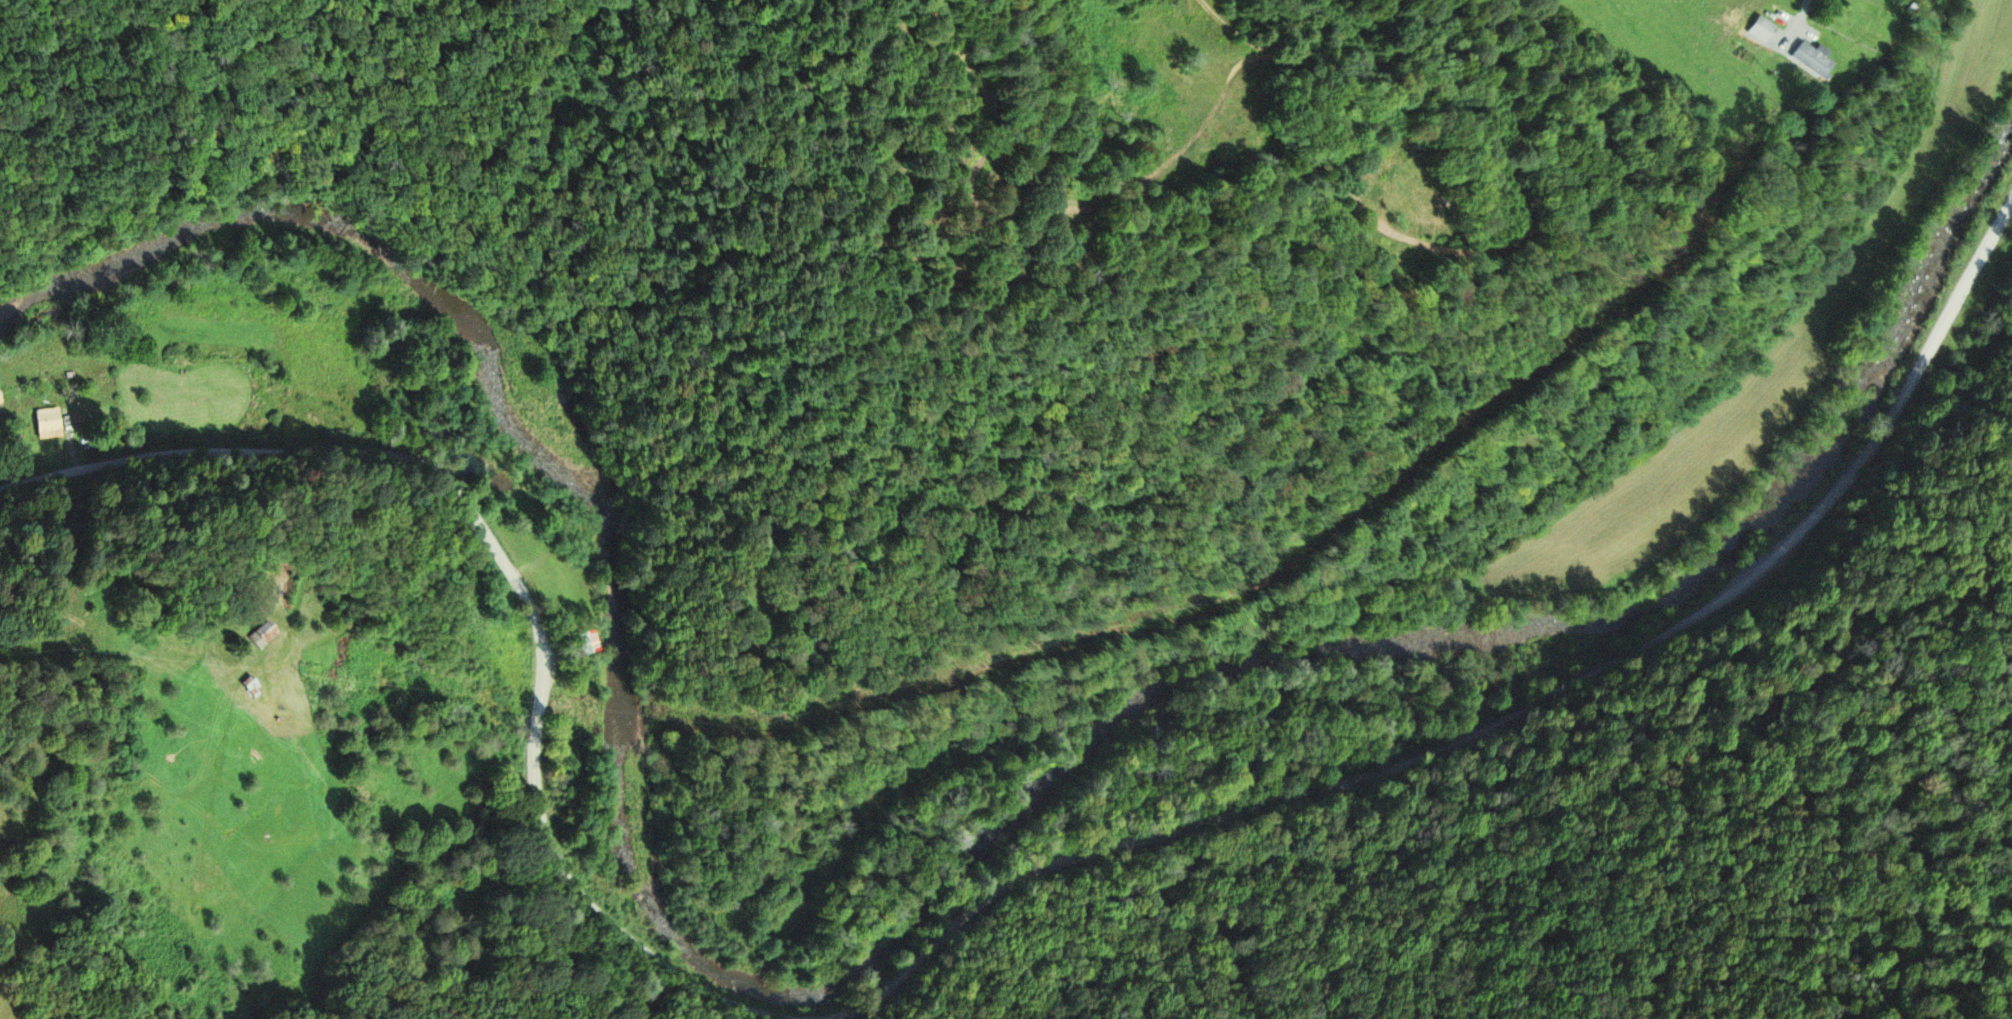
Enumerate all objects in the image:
road: (1801, 13)
building: (1772, 33)
building: (1811, 59)
road: (1300, 77)
building: (0, 403)
building: (46, 423)
road: (522, 586)
park: (104, 590)
road: (70, 608)
building: (262, 635)
building: (588, 641)
road: (1507, 722)
road: (1646, 761)
river: (896, 928)

